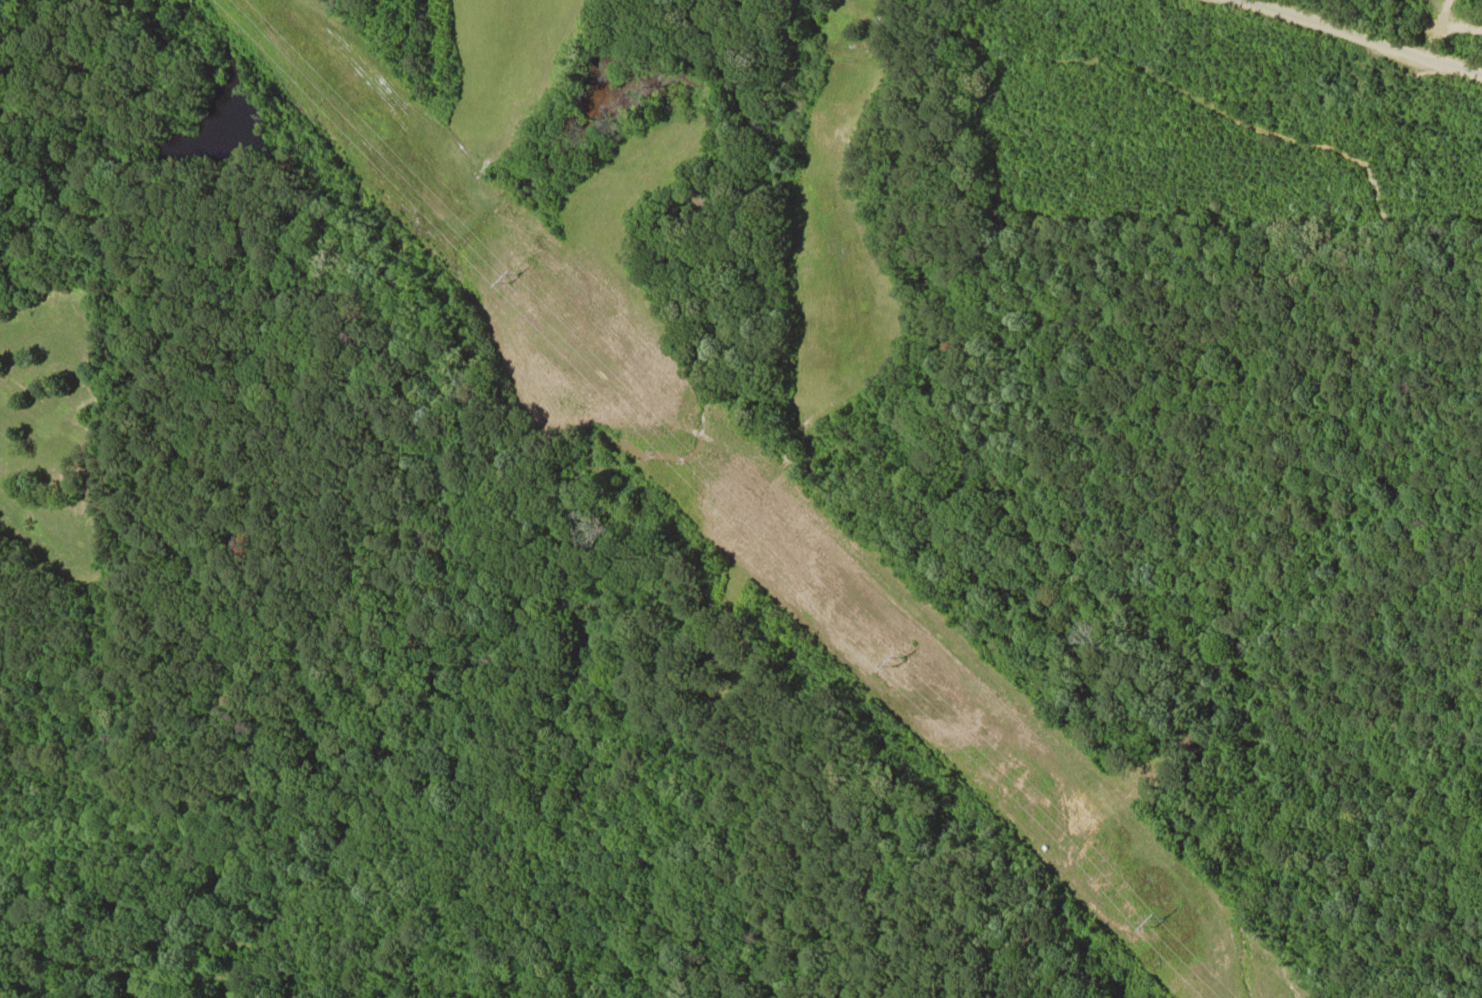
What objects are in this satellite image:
road: (1350, 39)

